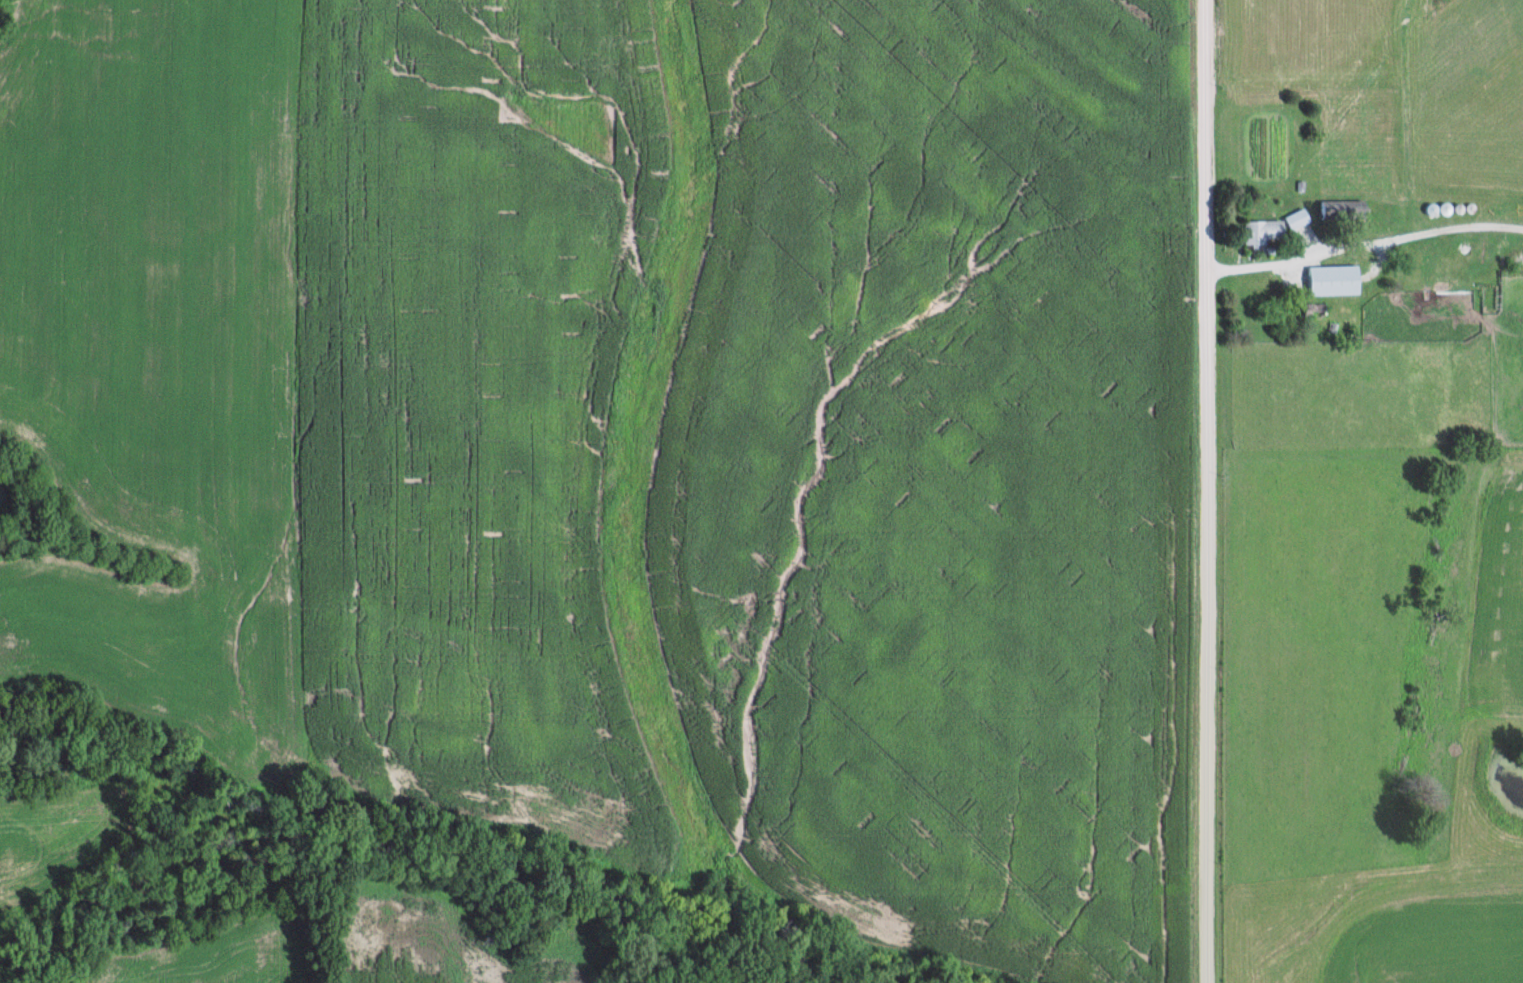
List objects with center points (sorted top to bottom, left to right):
building: (1338, 209)
building: (1293, 219)
building: (1252, 233)
building: (1328, 280)
building: (1311, 309)
road: (1205, 491)

